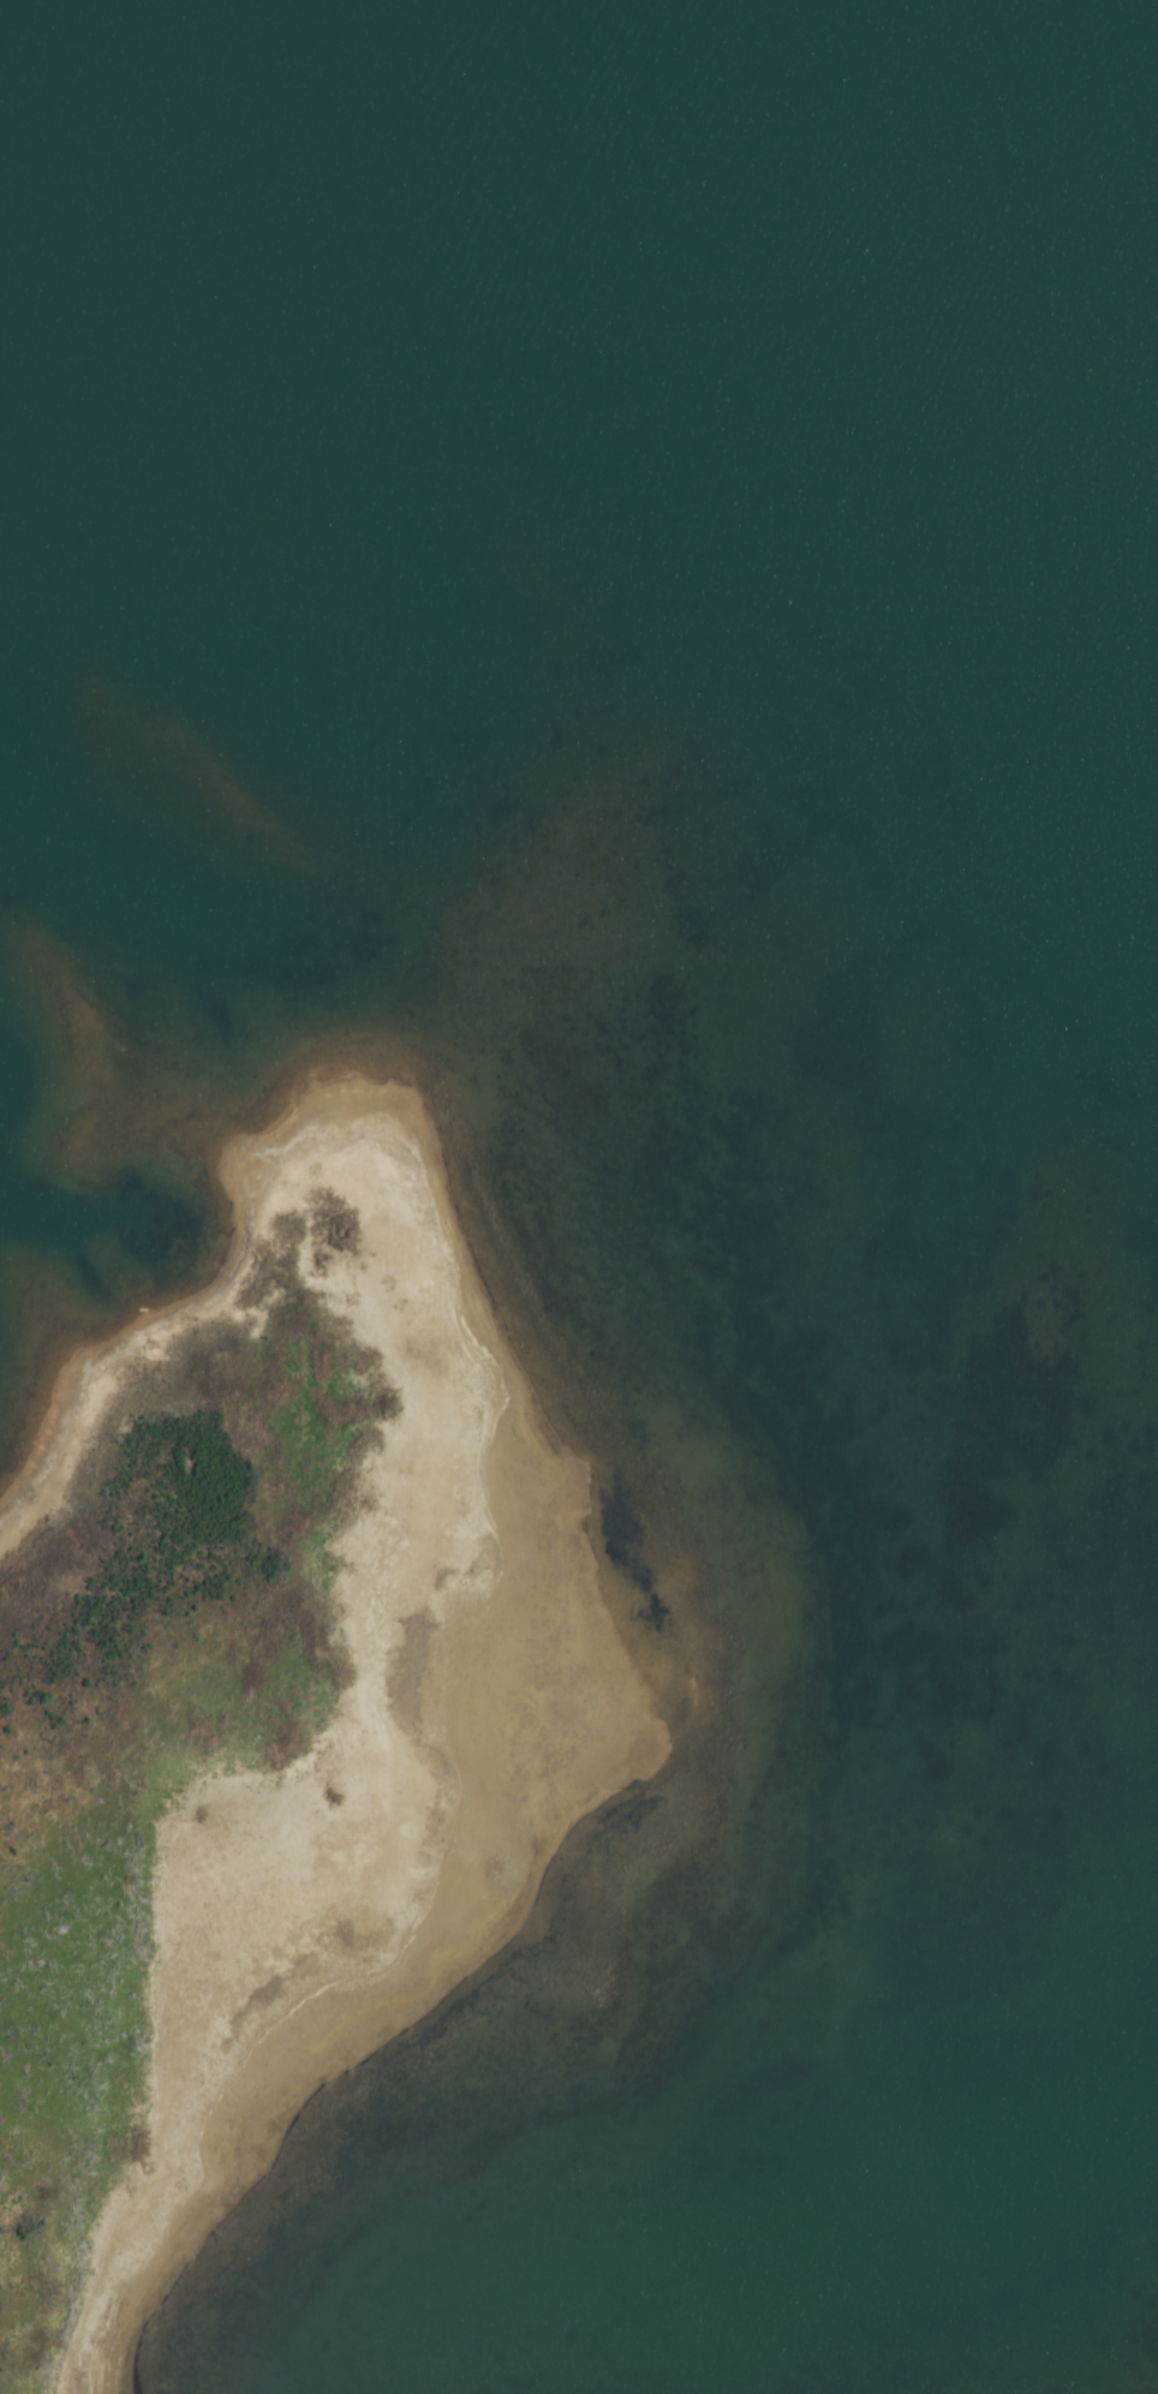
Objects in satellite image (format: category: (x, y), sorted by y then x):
river: (668, 324)

